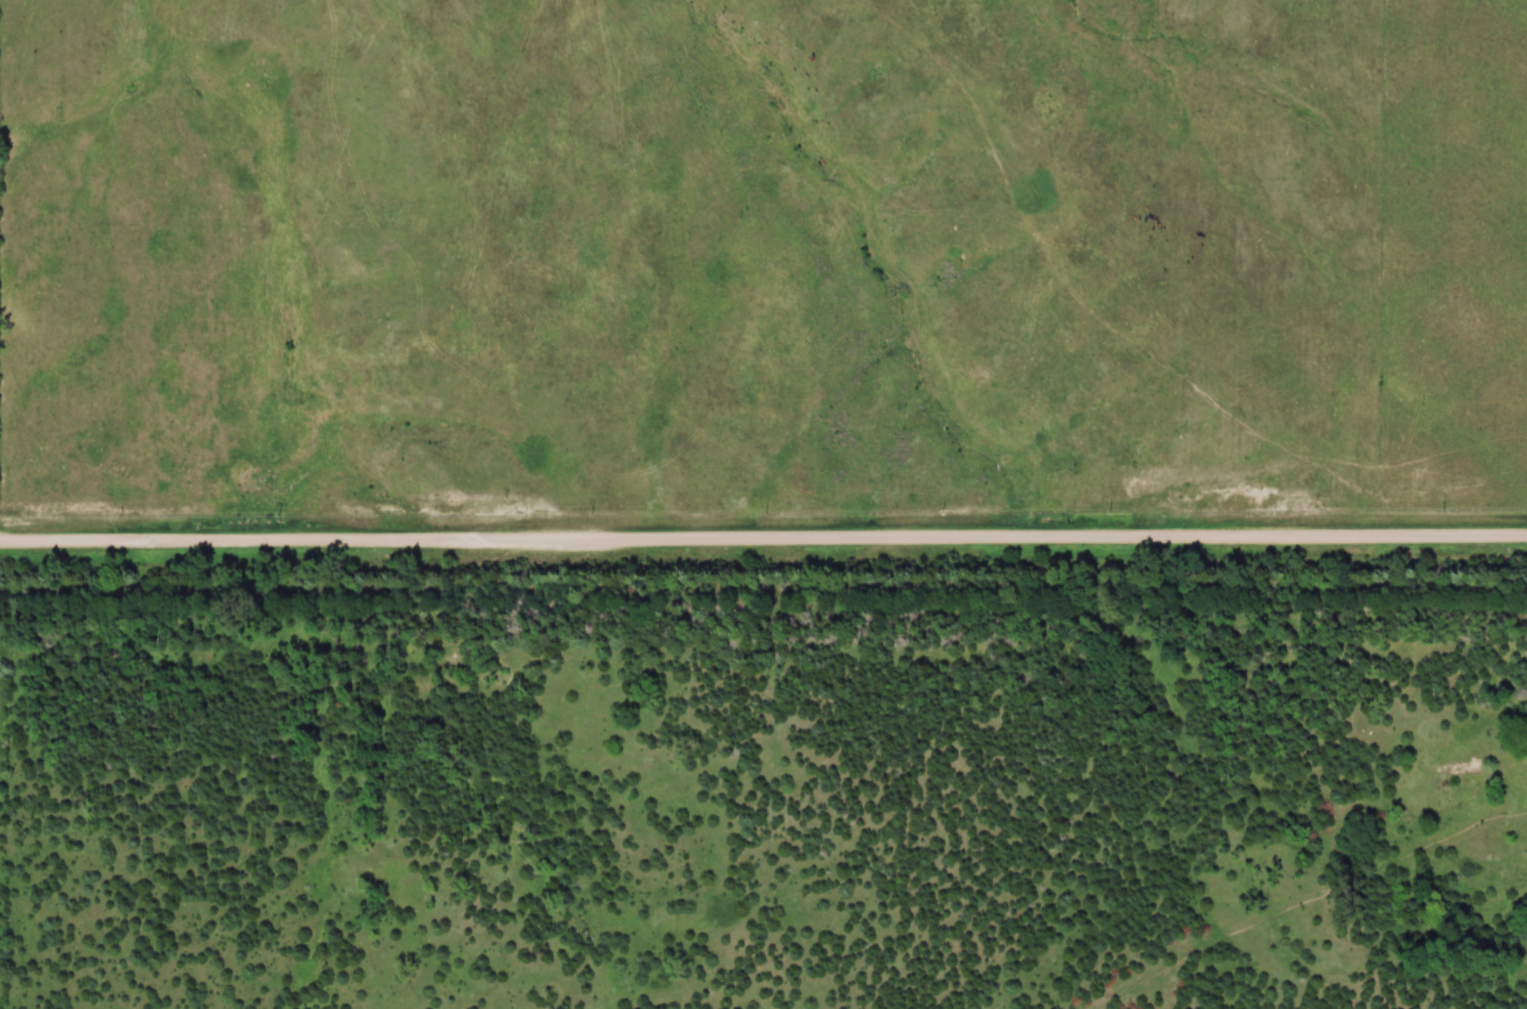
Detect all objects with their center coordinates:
road: (763, 543)

